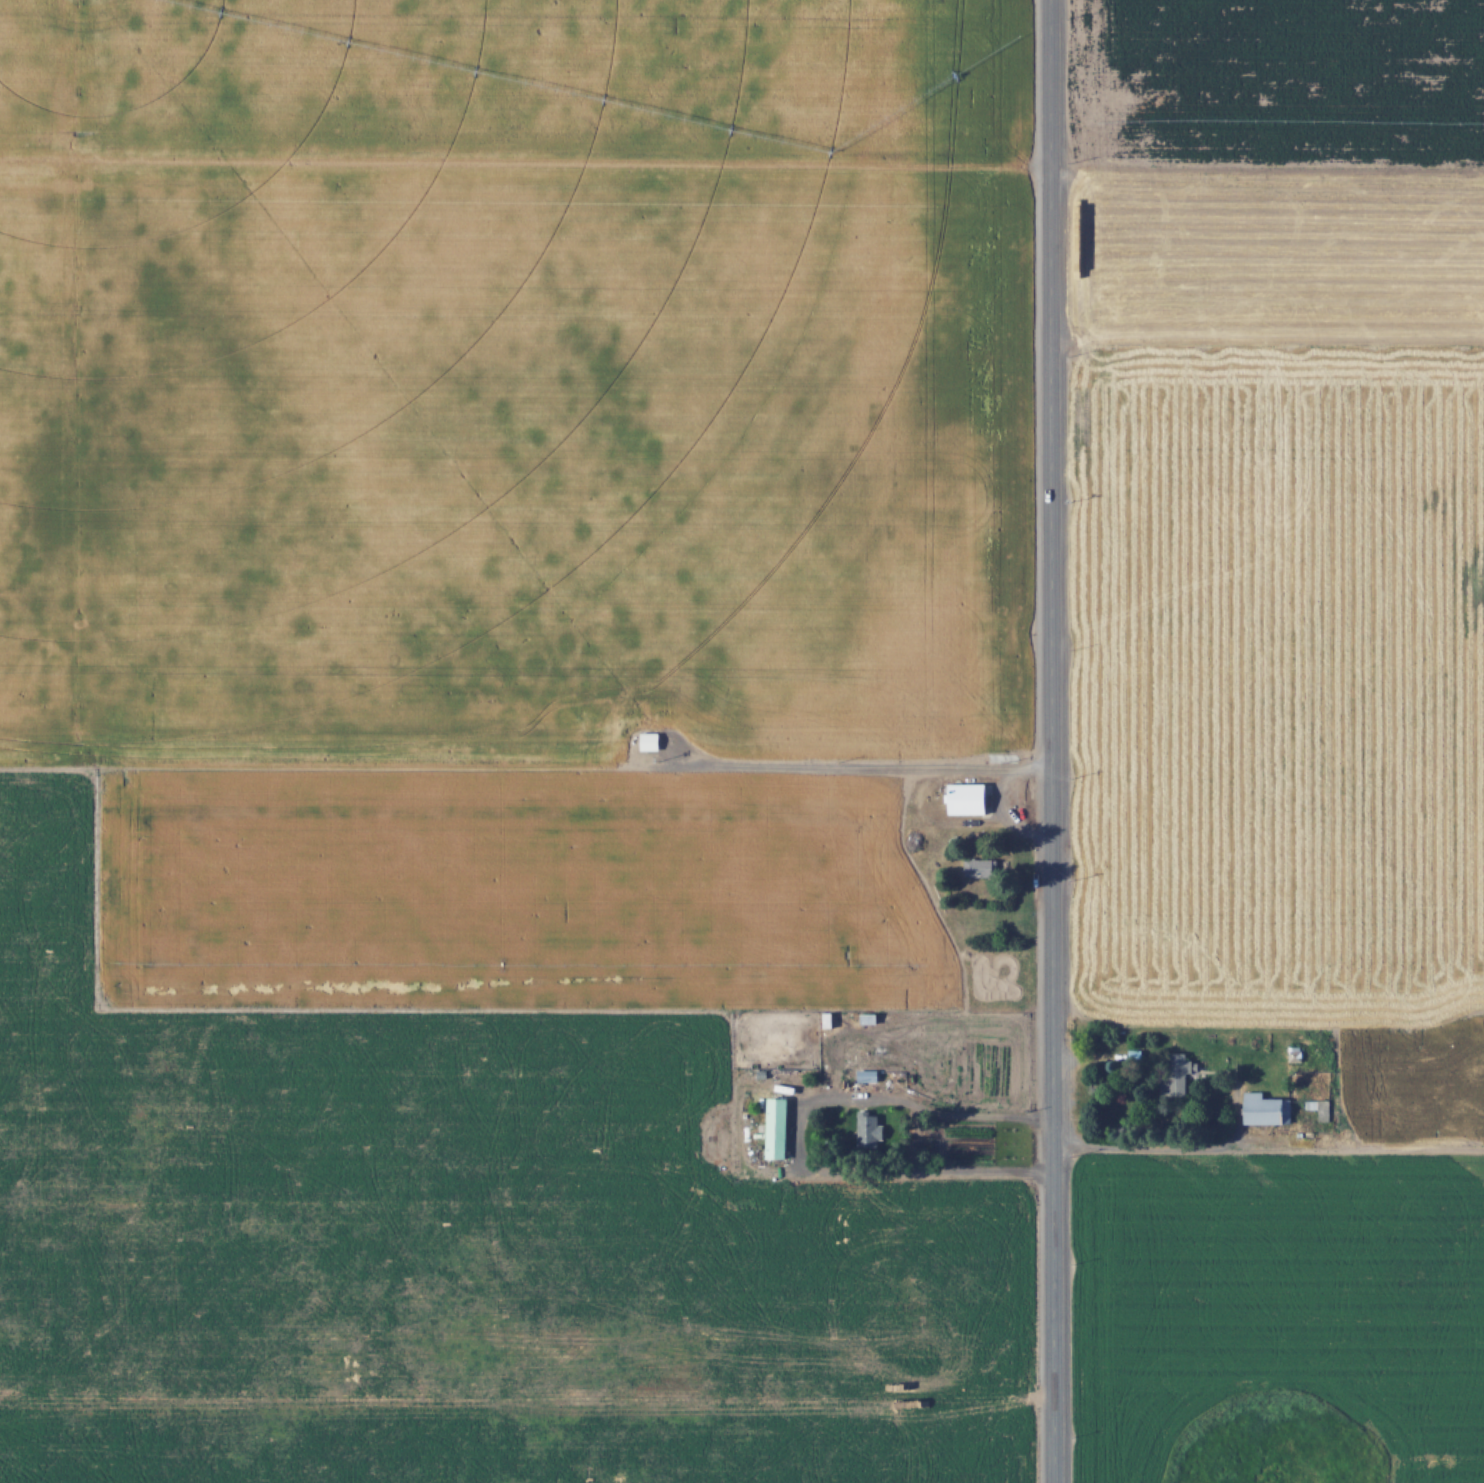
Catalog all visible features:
building: (652, 740)
road: (1046, 741)
building: (971, 798)
building: (982, 867)
building: (871, 1017)
building: (1476, 1023)
building: (1178, 1073)
building: (868, 1076)
building: (1268, 1110)
building: (778, 1128)
road: (725, 1142)

